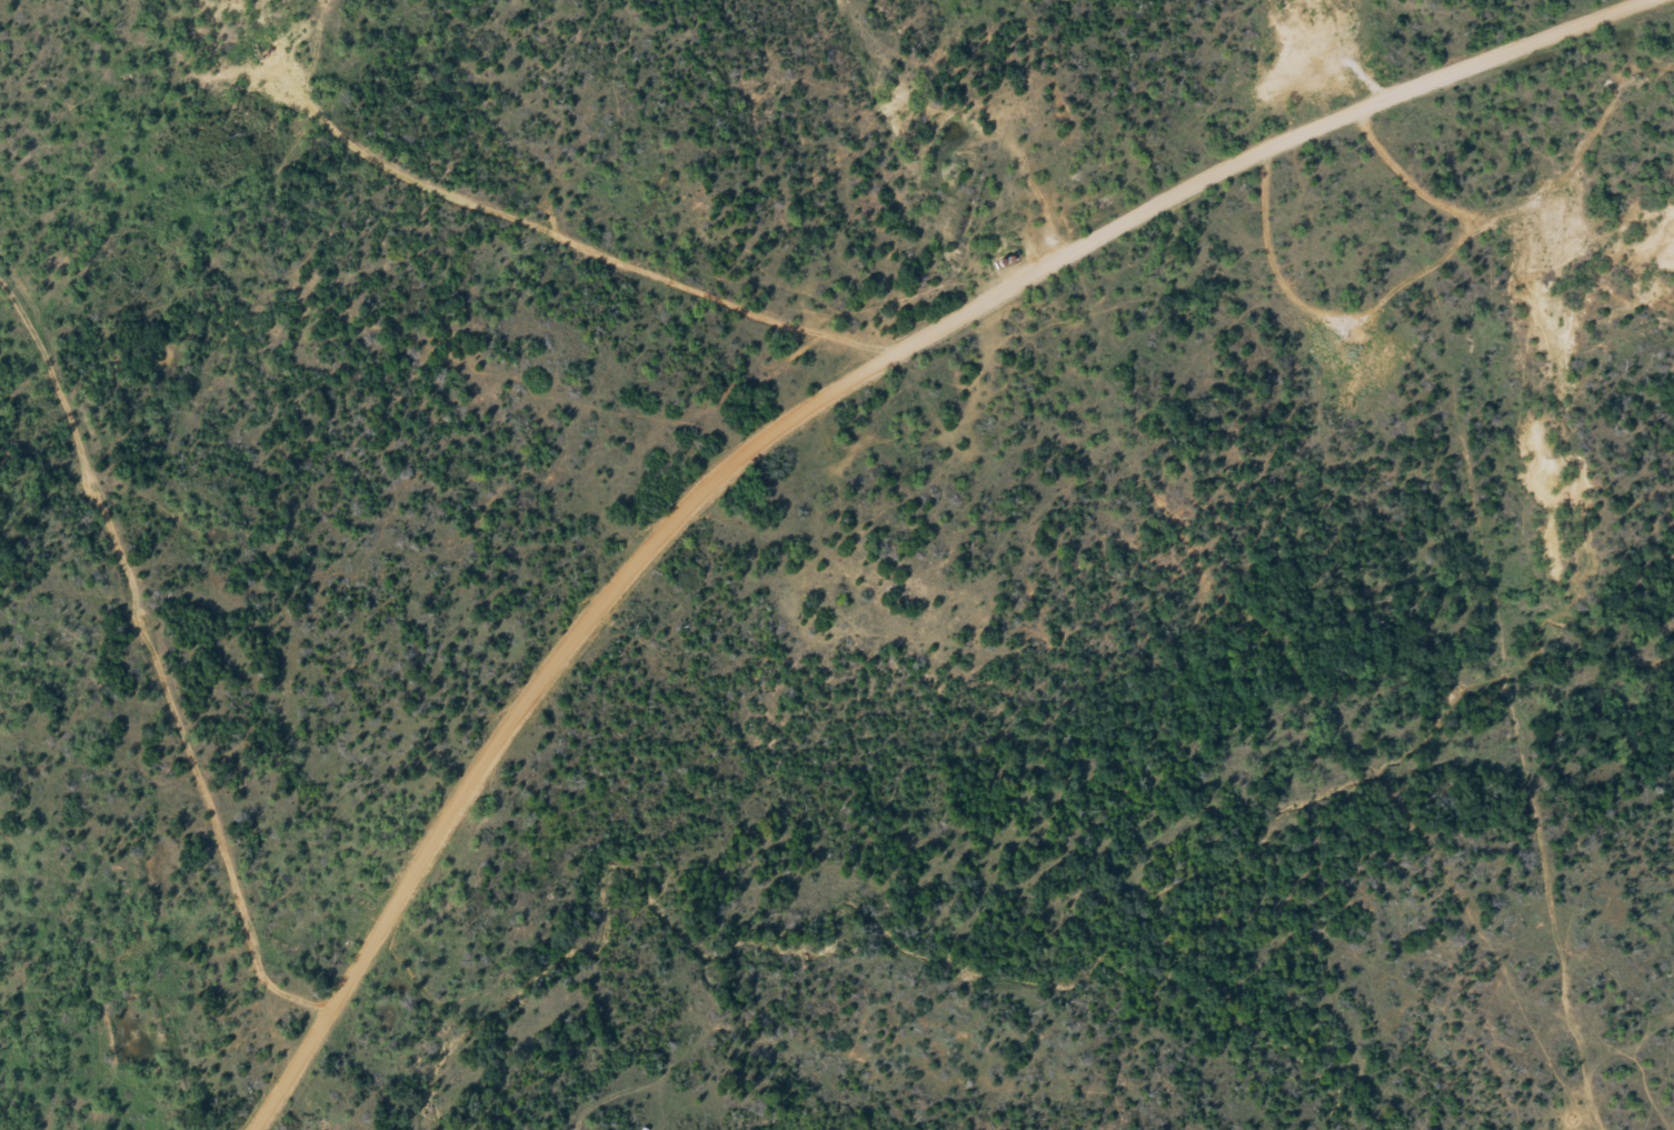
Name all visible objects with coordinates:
road: (577, 274)
road: (820, 403)

